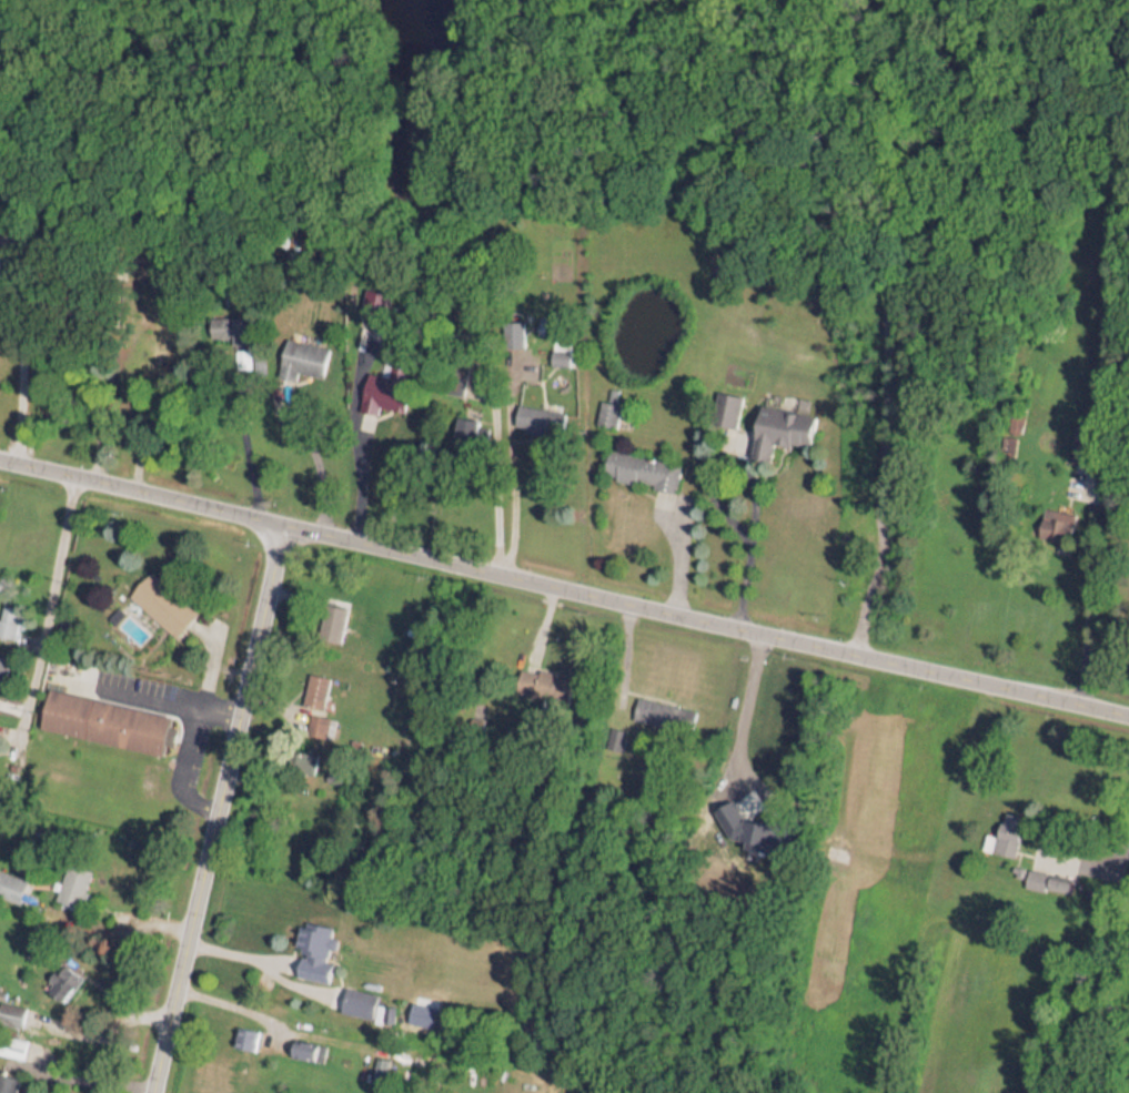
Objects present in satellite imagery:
building: (225, 323)
road: (877, 331)
building: (301, 352)
road: (14, 378)
building: (724, 403)
building: (536, 412)
building: (778, 424)
building: (643, 467)
road: (319, 478)
road: (496, 482)
road: (357, 486)
road: (712, 499)
road: (564, 595)
building: (164, 607)
road: (46, 610)
building: (329, 616)
road: (1085, 626)
building: (332, 627)
building: (533, 676)
building: (315, 694)
road: (737, 712)
building: (105, 725)
building: (317, 728)
road: (179, 750)
building: (306, 766)
road: (215, 811)
road: (1121, 844)
building: (17, 881)
building: (312, 943)
road: (254, 967)
building: (60, 975)
building: (357, 995)
building: (10, 1006)
building: (243, 1031)
building: (11, 1040)
road: (79, 1080)
building: (6, 1081)

